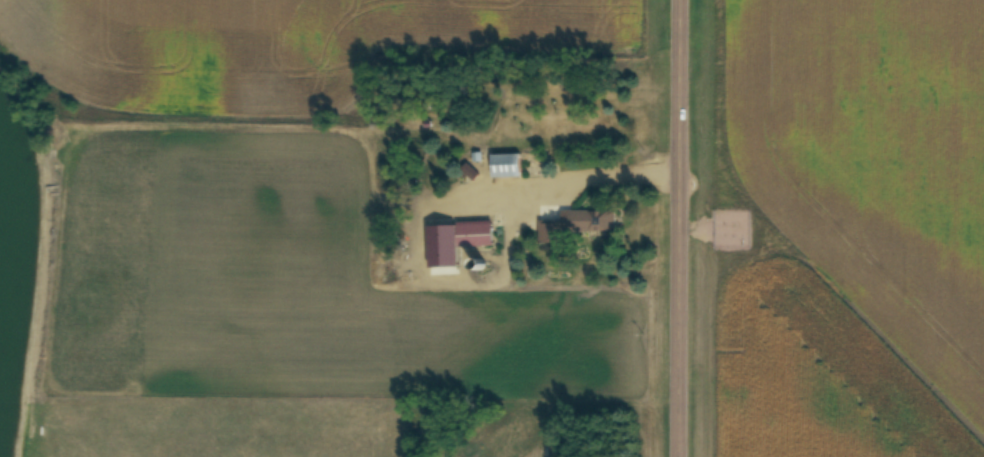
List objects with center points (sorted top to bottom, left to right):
building: (507, 166)
road: (581, 177)
building: (593, 221)
road: (681, 228)
building: (457, 241)

